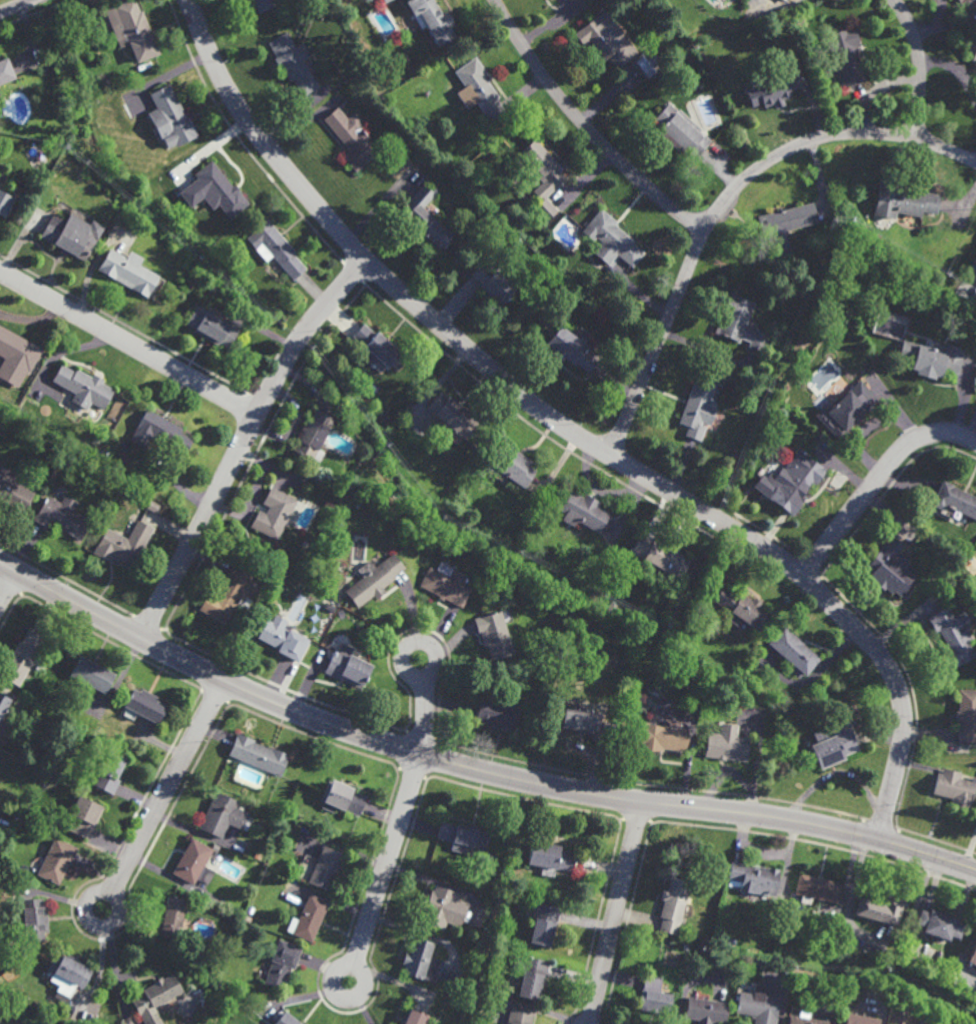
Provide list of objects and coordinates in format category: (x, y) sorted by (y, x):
building: (784, 0)
building: (959, 0)
building: (385, 1)
building: (260, 5)
road: (16, 6)
building: (429, 19)
building: (129, 29)
building: (605, 39)
building: (970, 48)
building: (844, 54)
building: (975, 61)
building: (291, 62)
building: (646, 64)
road: (921, 65)
road: (955, 68)
building: (5, 70)
building: (771, 90)
building: (475, 91)
building: (168, 117)
road: (587, 126)
building: (679, 131)
building: (350, 138)
building: (536, 176)
building: (219, 189)
building: (901, 200)
road: (723, 201)
building: (4, 203)
building: (414, 220)
building: (782, 226)
building: (70, 235)
building: (609, 241)
building: (276, 249)
building: (126, 271)
building: (488, 285)
building: (738, 324)
building: (880, 325)
building: (210, 327)
road: (128, 343)
building: (376, 349)
building: (570, 350)
building: (16, 355)
building: (930, 359)
building: (83, 386)
building: (697, 404)
building: (846, 407)
building: (449, 415)
road: (568, 429)
building: (164, 430)
building: (311, 434)
road: (243, 442)
building: (509, 463)
road: (876, 479)
building: (795, 483)
building: (13, 490)
building: (955, 498)
building: (360, 500)
building: (580, 509)
building: (273, 512)
building: (61, 515)
building: (410, 531)
building: (121, 543)
building: (658, 554)
building: (889, 566)
building: (373, 578)
building: (445, 583)
road: (9, 586)
building: (226, 593)
building: (592, 598)
building: (327, 606)
building: (740, 607)
building: (494, 634)
building: (952, 635)
building: (282, 637)
building: (792, 651)
building: (20, 657)
road: (402, 664)
building: (346, 665)
building: (90, 674)
building: (727, 688)
building: (144, 704)
building: (4, 706)
building: (617, 707)
building: (496, 713)
road: (423, 715)
building: (966, 715)
building: (585, 724)
building: (659, 737)
building: (724, 744)
building: (830, 745)
building: (257, 754)
road: (470, 768)
building: (106, 770)
road: (168, 786)
building: (954, 789)
building: (341, 797)
building: (221, 815)
building: (81, 816)
building: (20, 821)
building: (460, 837)
building: (282, 841)
building: (489, 854)
building: (257, 855)
building: (547, 858)
building: (55, 860)
road: (389, 860)
building: (193, 862)
building: (256, 863)
building: (321, 868)
building: (263, 871)
building: (751, 878)
building: (815, 888)
building: (671, 904)
building: (441, 909)
building: (880, 909)
road: (616, 912)
road: (119, 915)
building: (170, 918)
building: (247, 918)
building: (308, 918)
building: (30, 919)
building: (540, 923)
building: (937, 925)
building: (479, 944)
building: (685, 946)
building: (478, 952)
building: (223, 953)
building: (972, 956)
building: (420, 961)
building: (281, 965)
building: (66, 973)
building: (528, 975)
road: (366, 979)
building: (652, 995)
building: (154, 998)
building: (49, 1005)
building: (756, 1005)
building: (704, 1010)
building: (518, 1016)
building: (413, 1017)
building: (801, 1018)
building: (859, 1018)
building: (286, 1019)
building: (909, 1023)

